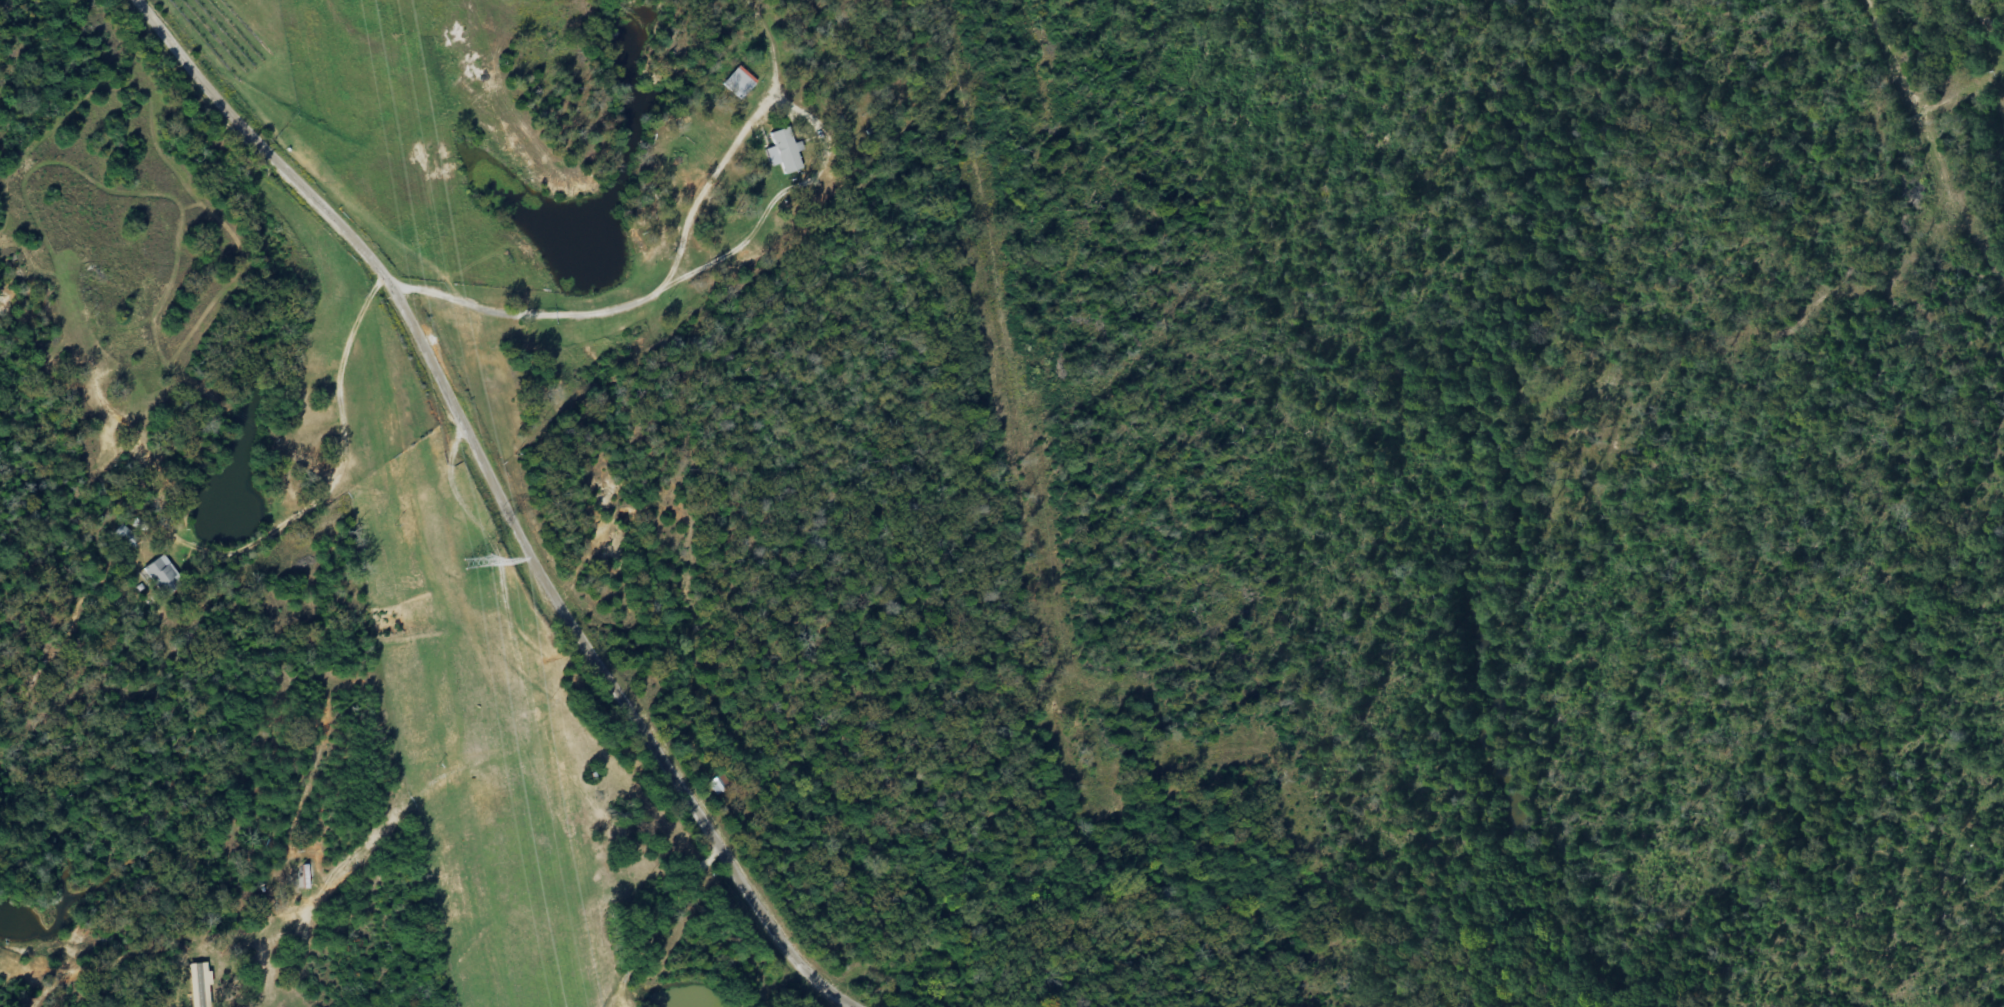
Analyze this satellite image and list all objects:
building: (740, 83)
building: (784, 152)
road: (1928, 158)
road: (470, 502)
power tower: (481, 562)
building: (163, 576)
building: (199, 985)

